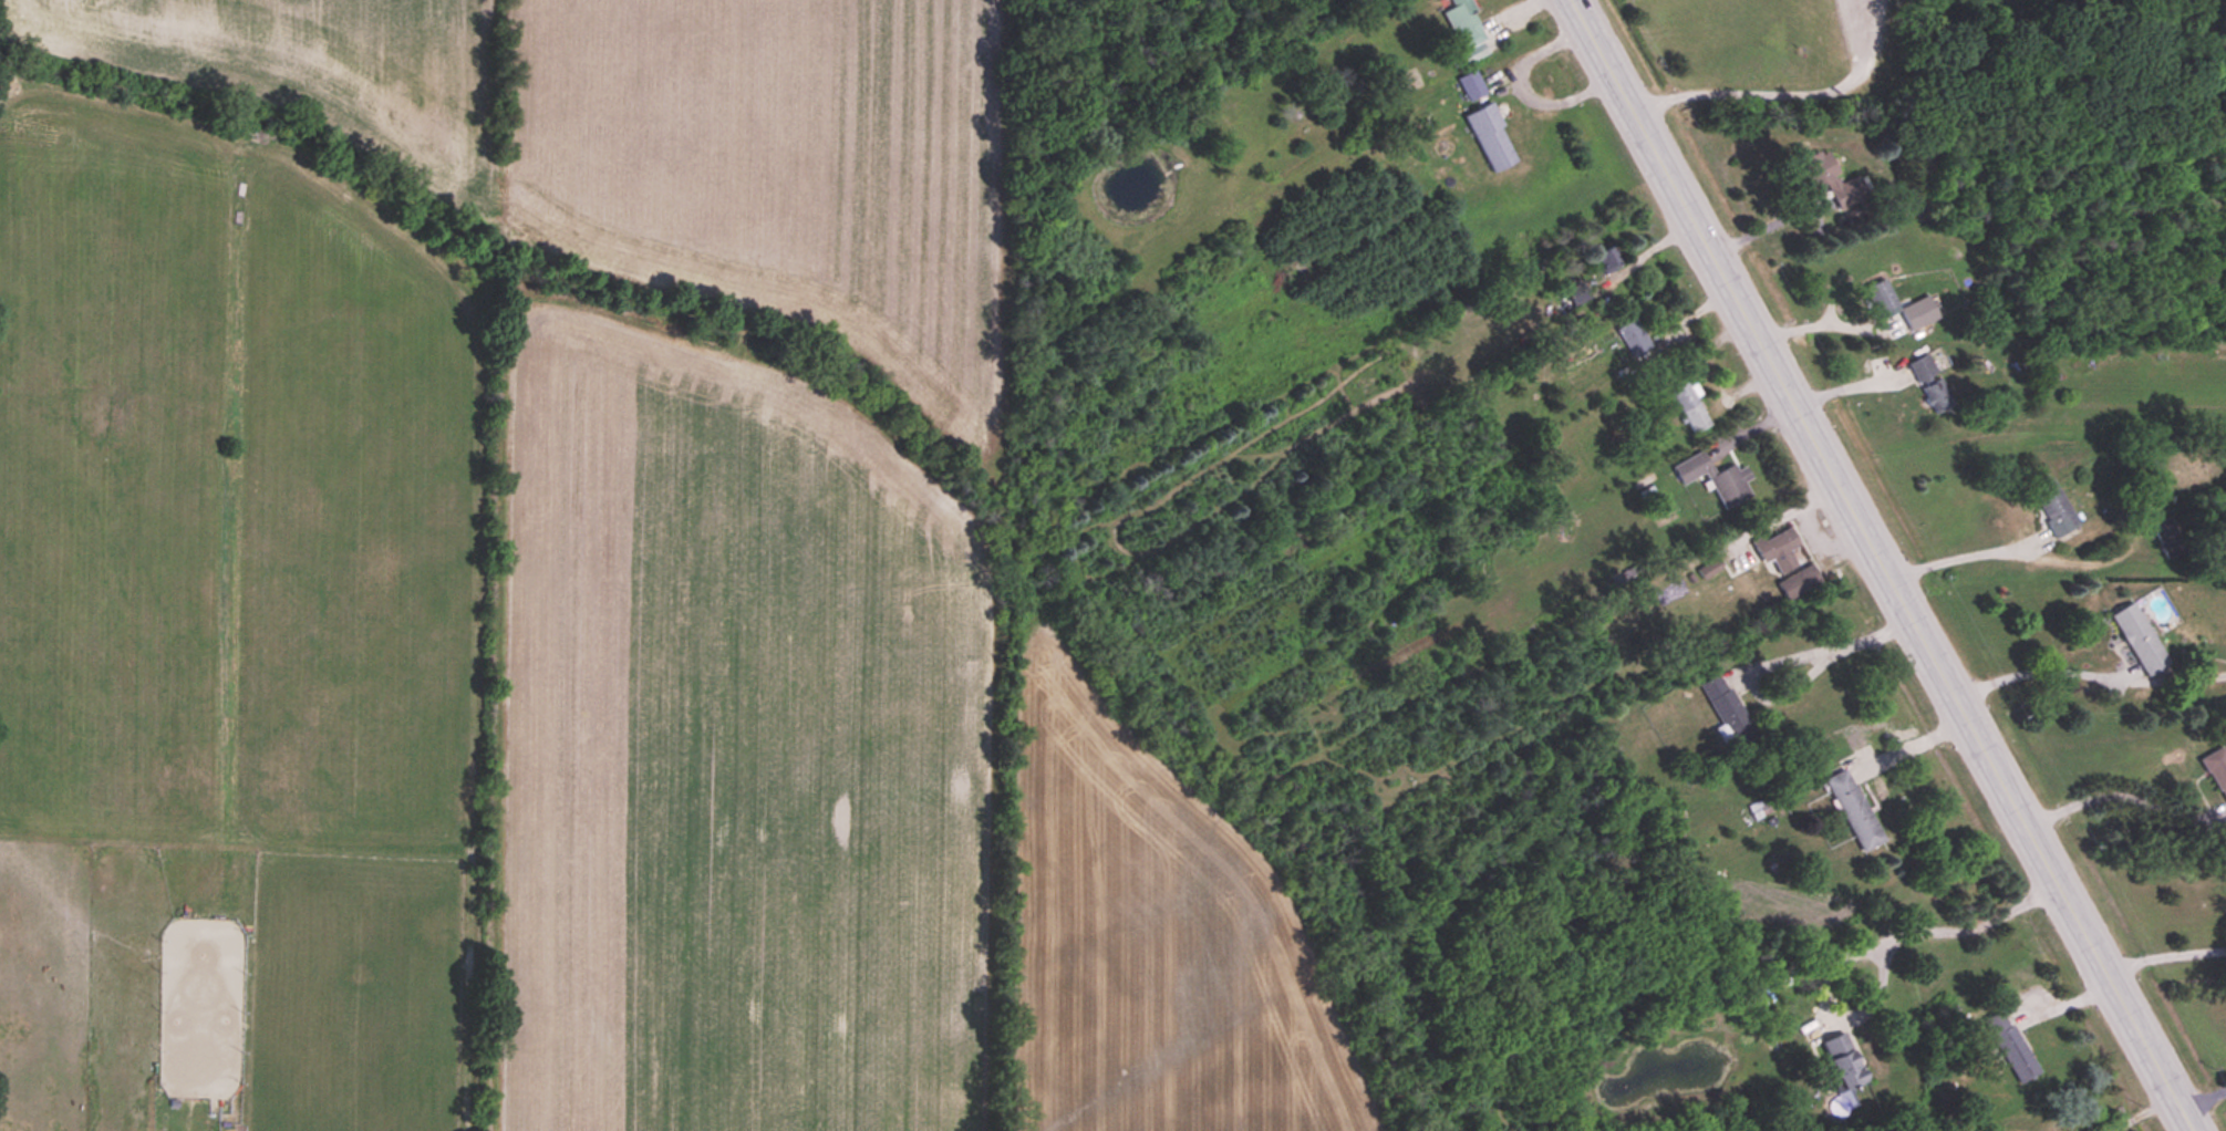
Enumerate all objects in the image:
building: (1468, 30)
building: (1472, 87)
road: (1529, 90)
road: (1736, 96)
building: (1491, 137)
building: (1832, 179)
building: (1606, 260)
building: (1880, 294)
building: (1919, 313)
building: (1637, 344)
road: (1870, 347)
building: (1923, 369)
building: (1937, 396)
building: (1689, 408)
building: (1717, 480)
building: (2054, 509)
building: (2167, 539)
building: (1779, 550)
road: (1960, 557)
road: (1878, 565)
building: (1799, 583)
building: (2140, 641)
road: (1767, 660)
road: (2028, 673)
building: (1728, 713)
road: (2118, 796)
building: (1854, 811)
road: (2162, 952)
road: (1886, 965)
building: (2010, 1046)
building: (1843, 1062)
road: (2201, 1096)

